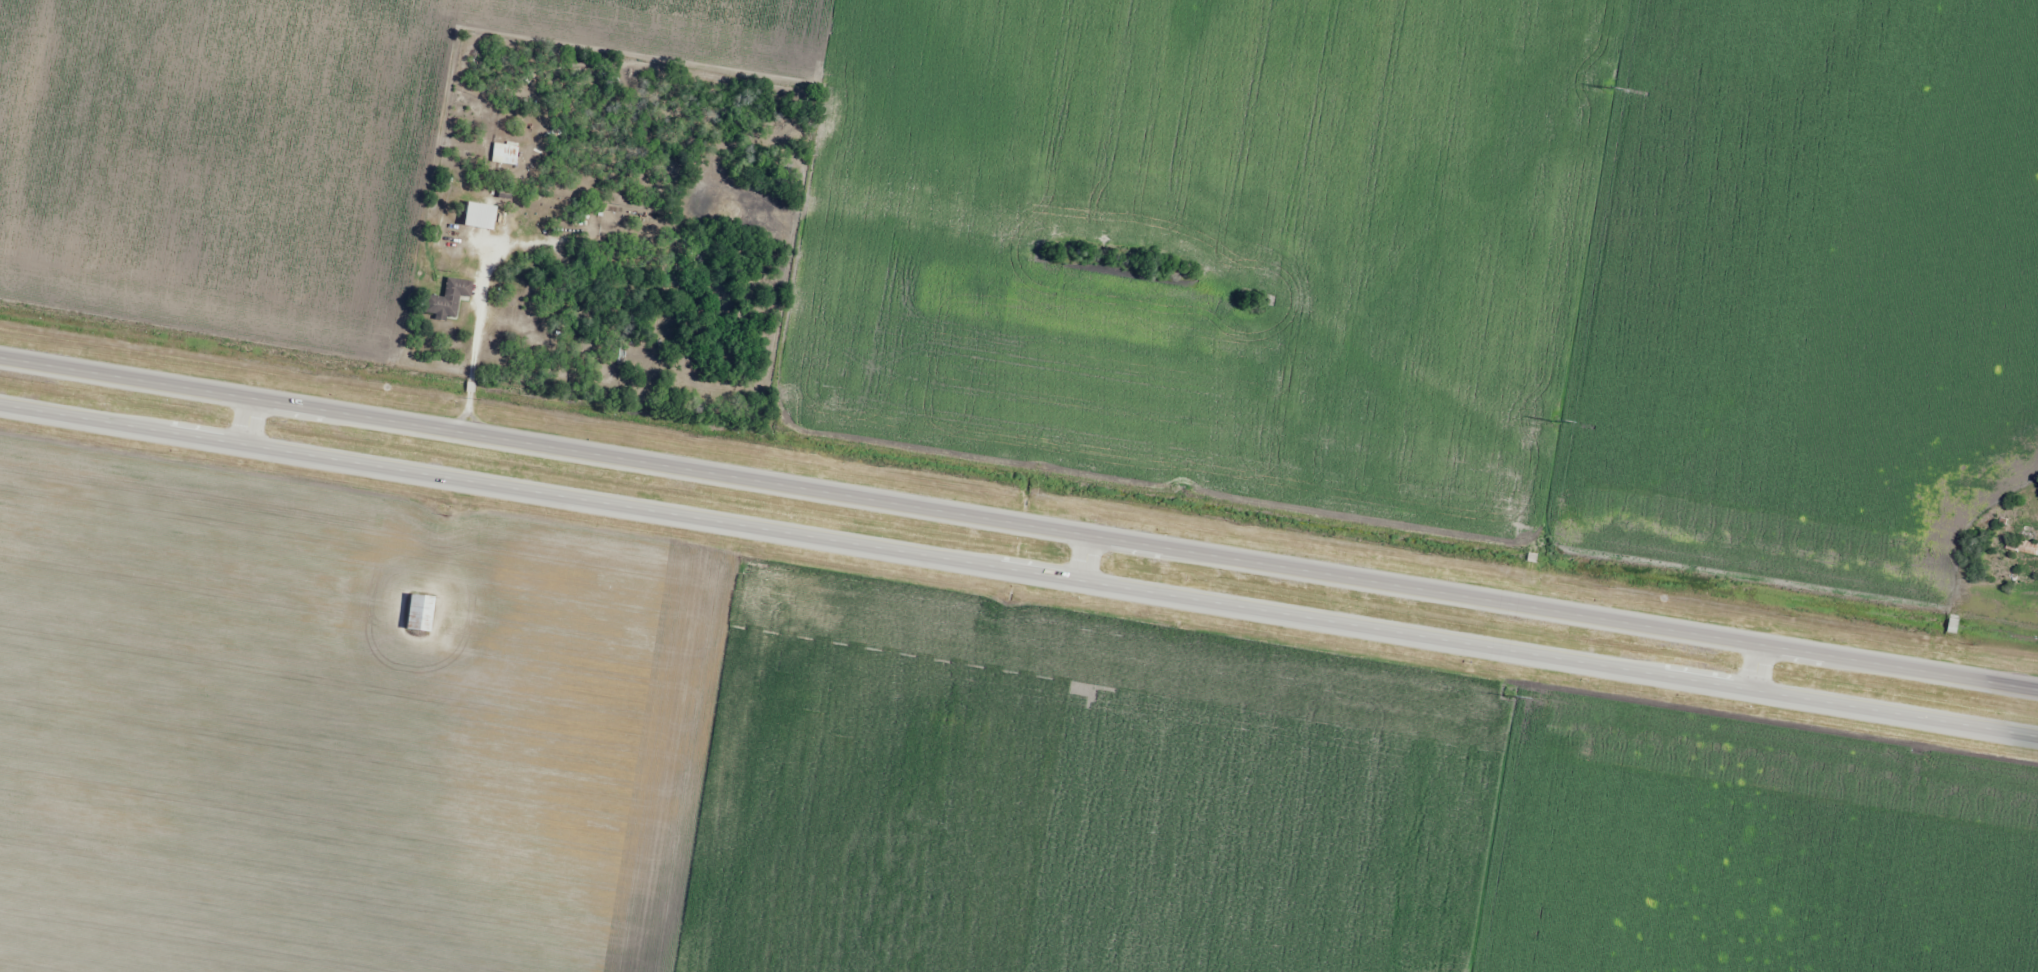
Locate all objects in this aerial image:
power tower: (1608, 88)
building: (480, 217)
building: (449, 300)
road: (247, 420)
power tower: (1552, 421)
road: (1018, 523)
building: (2023, 546)
road: (1084, 557)
road: (1019, 569)
building: (420, 612)
road: (1755, 666)
power tower: (1508, 696)
crop: (869, 760)
building: (1672, 769)
building: (1860, 806)

